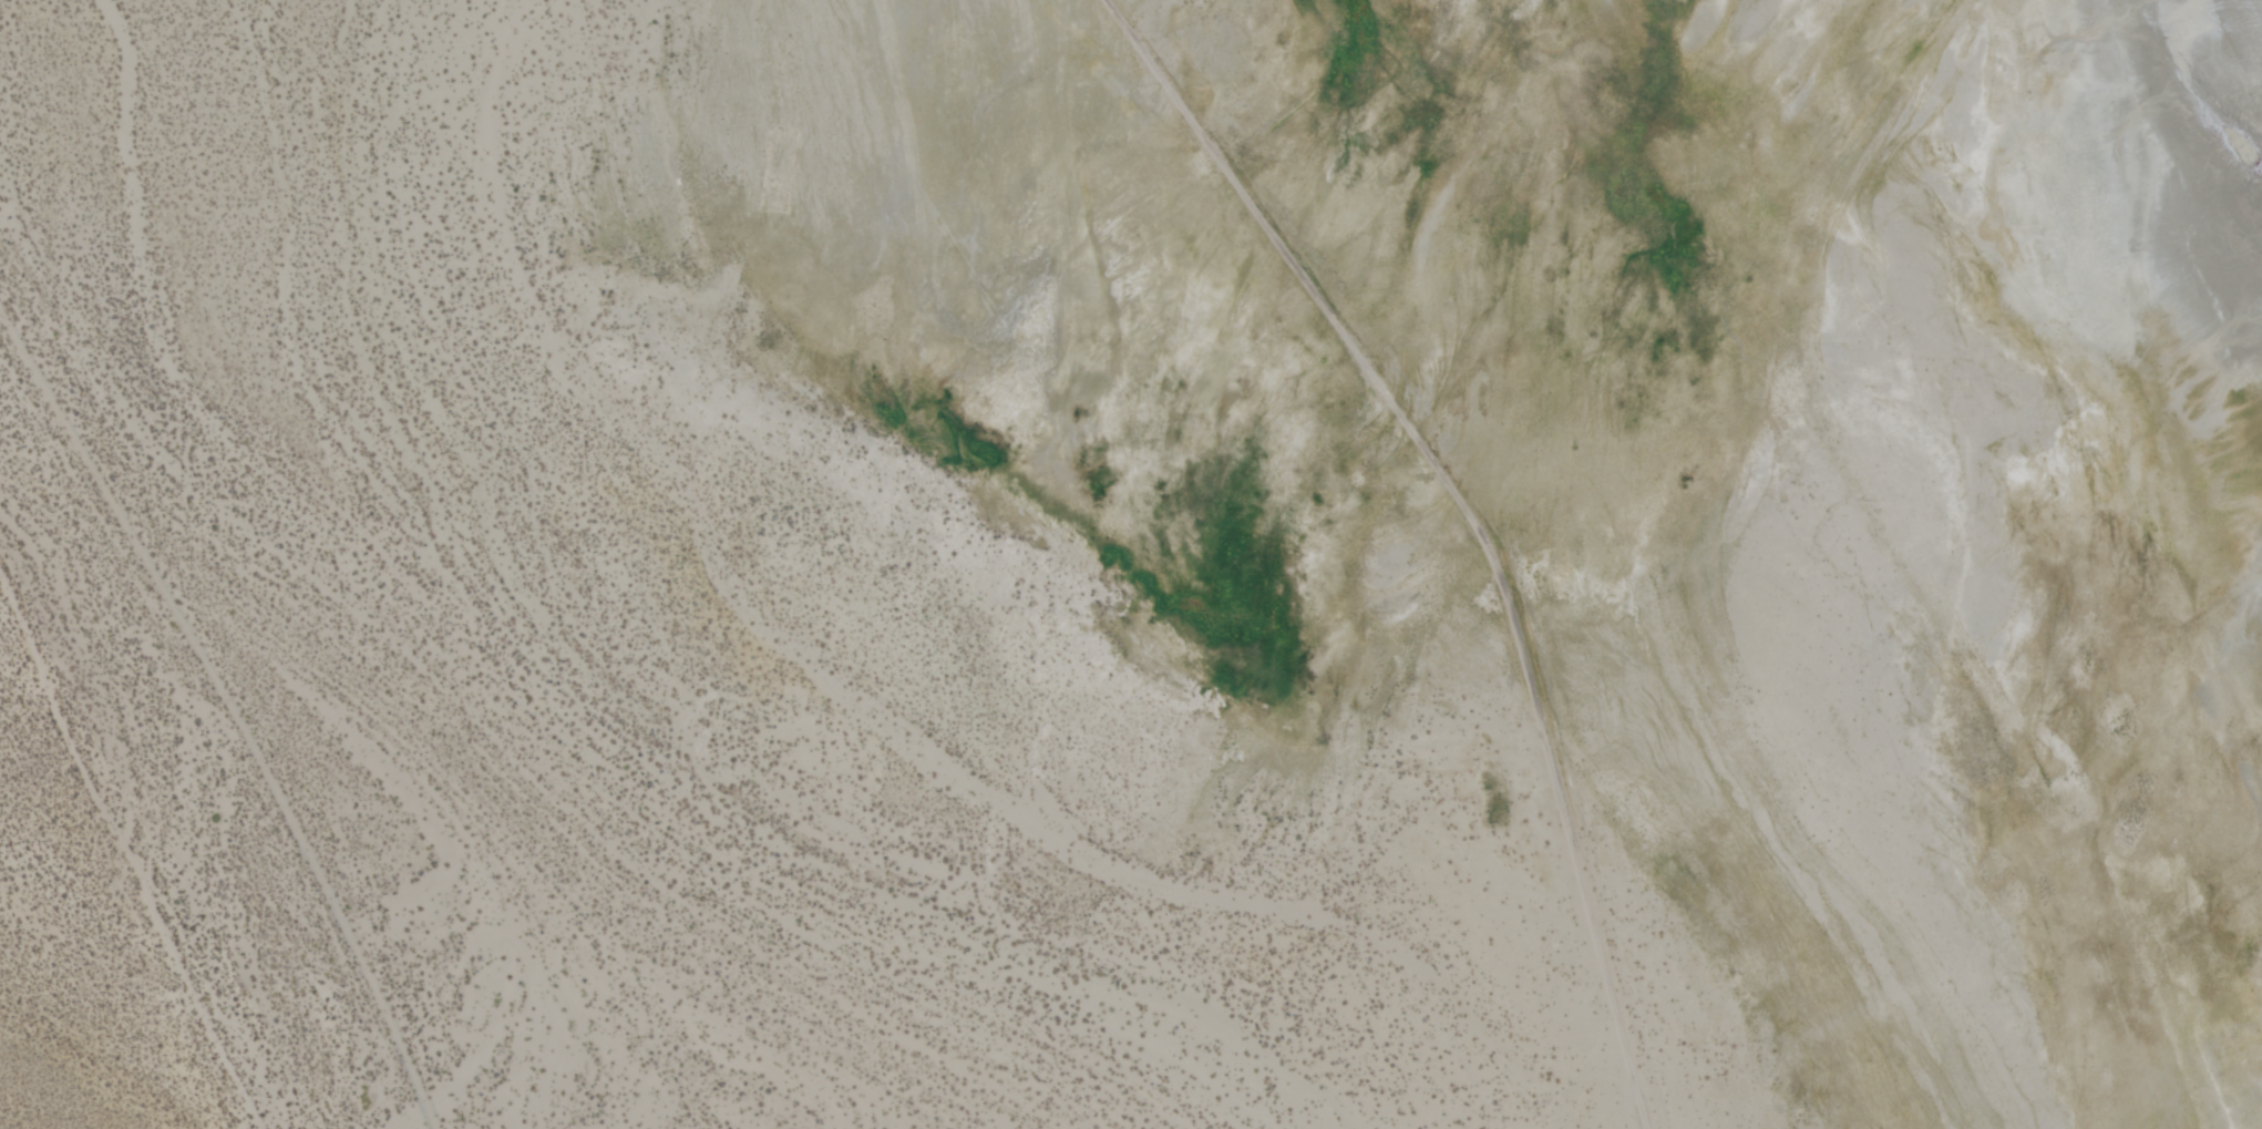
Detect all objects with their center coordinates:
road: (1463, 519)
road: (123, 863)

